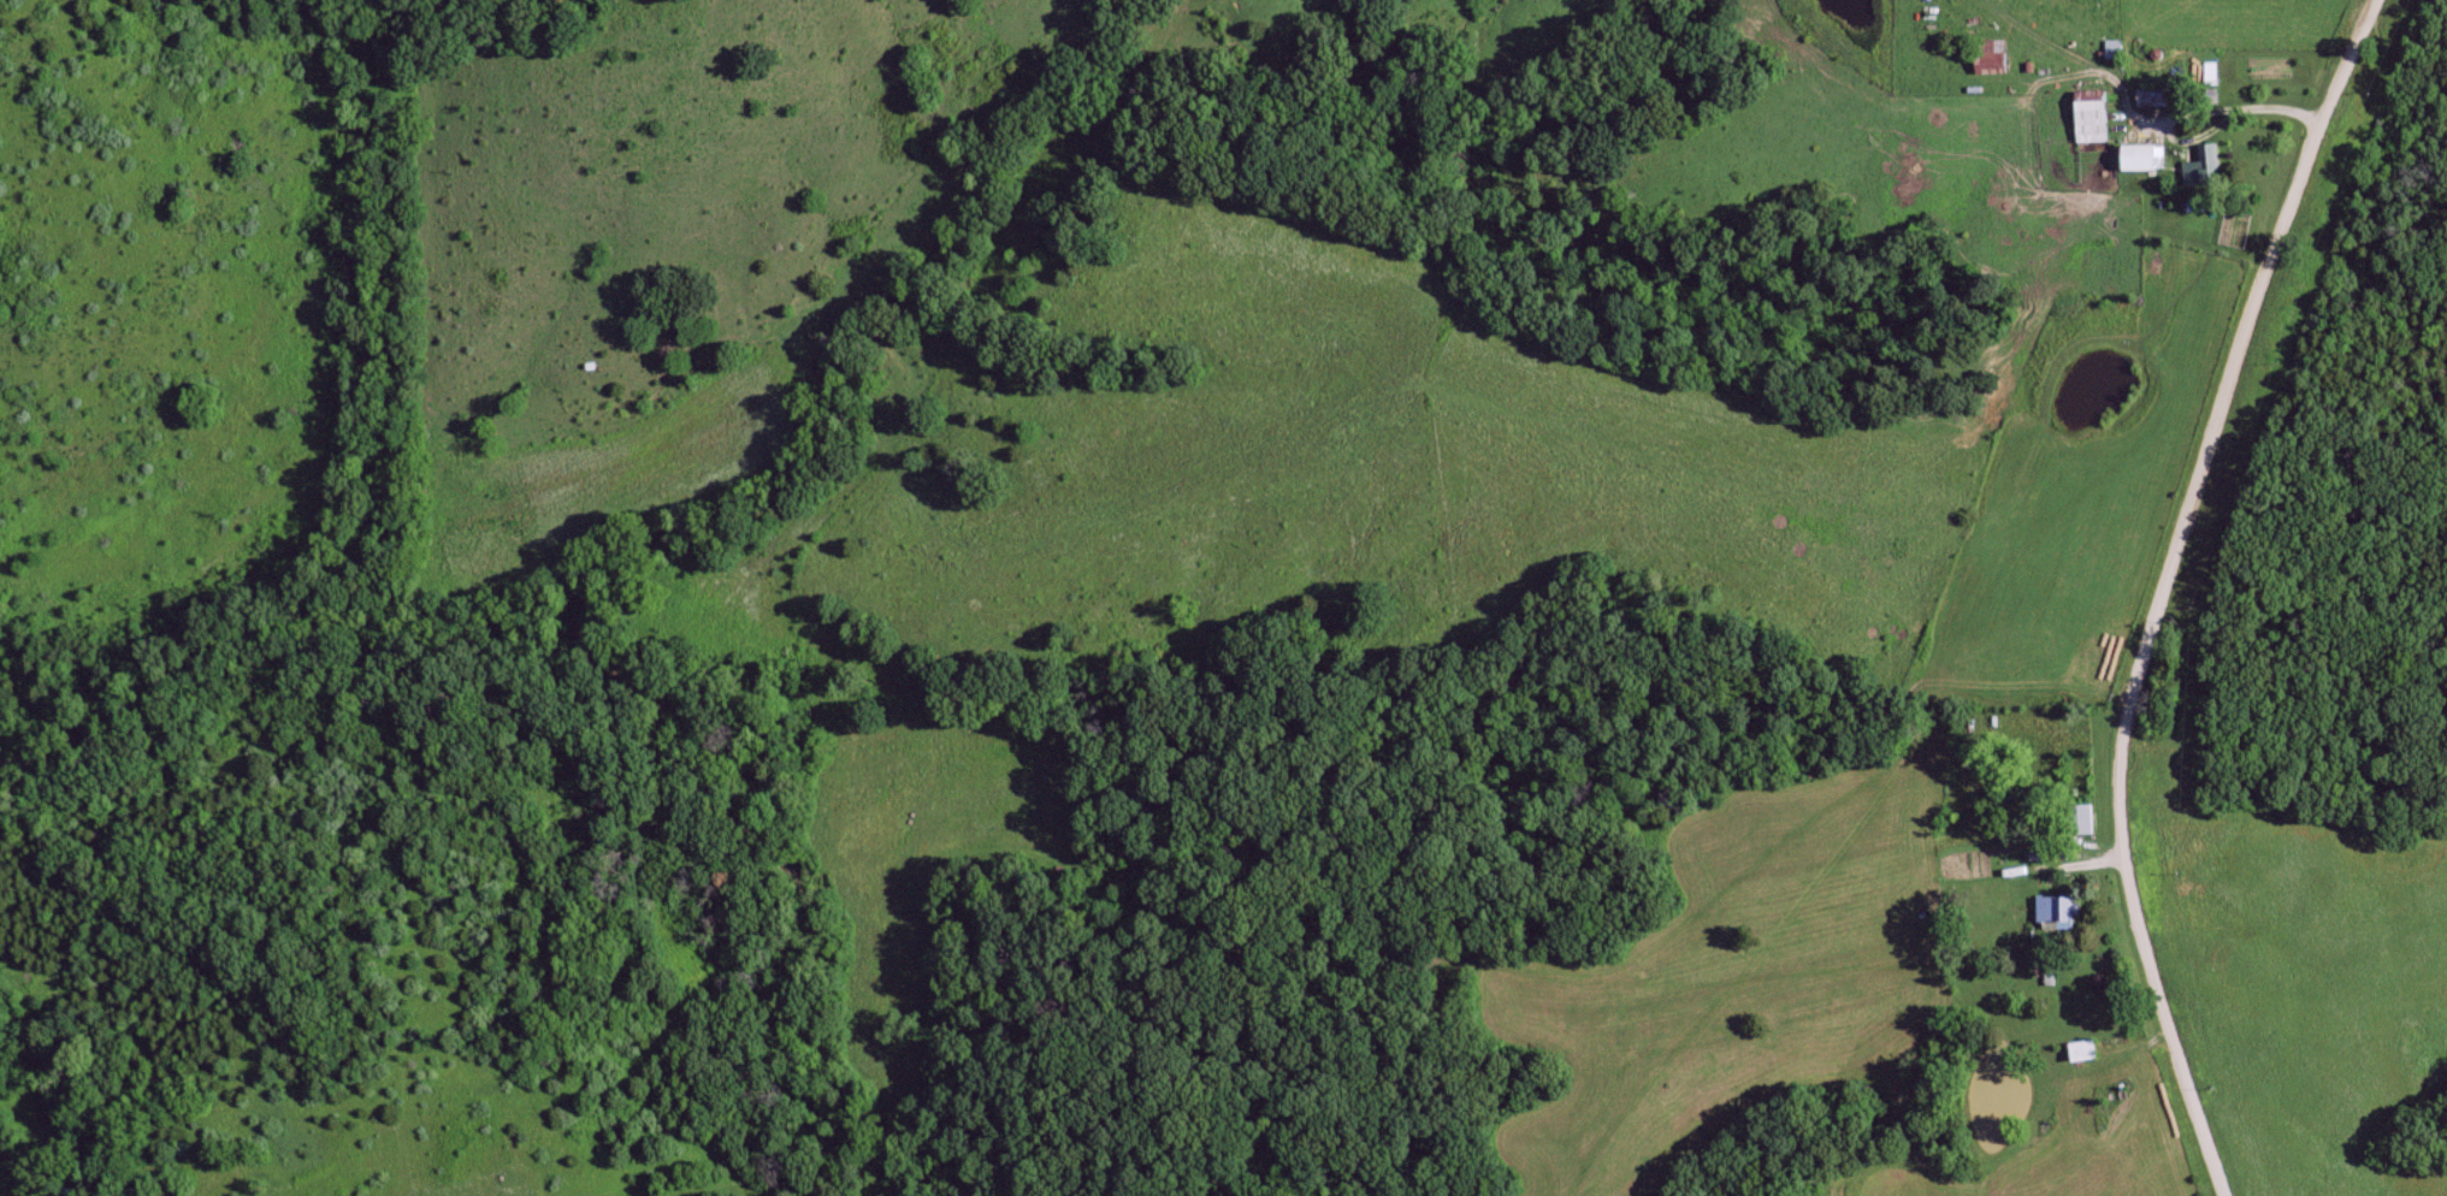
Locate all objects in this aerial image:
building: (1992, 57)
building: (2091, 117)
building: (2140, 158)
building: (2201, 168)
road: (2158, 588)
building: (2080, 819)
building: (2065, 913)
building: (2082, 1052)

